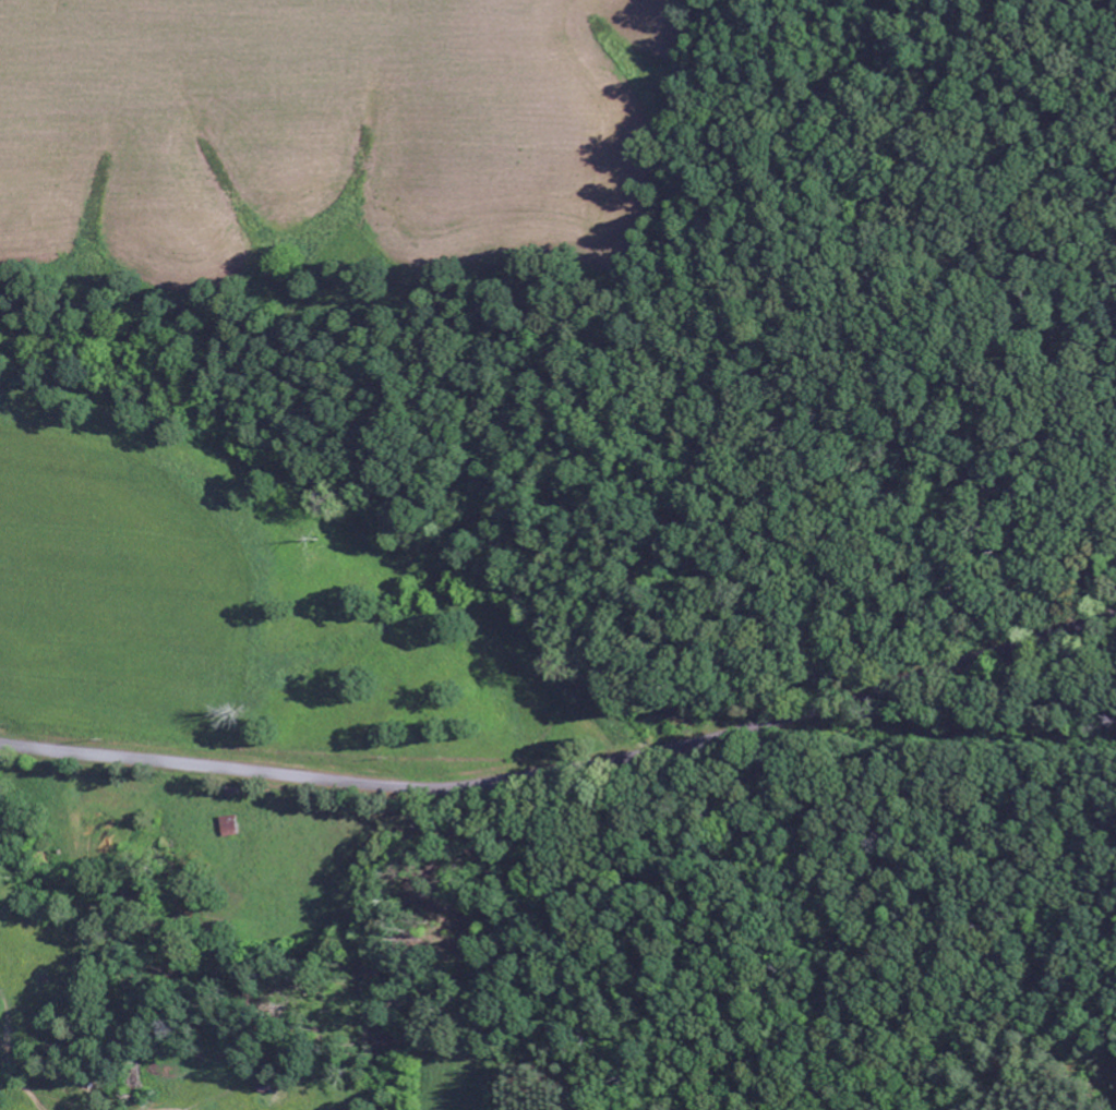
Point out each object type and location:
road: (566, 770)

